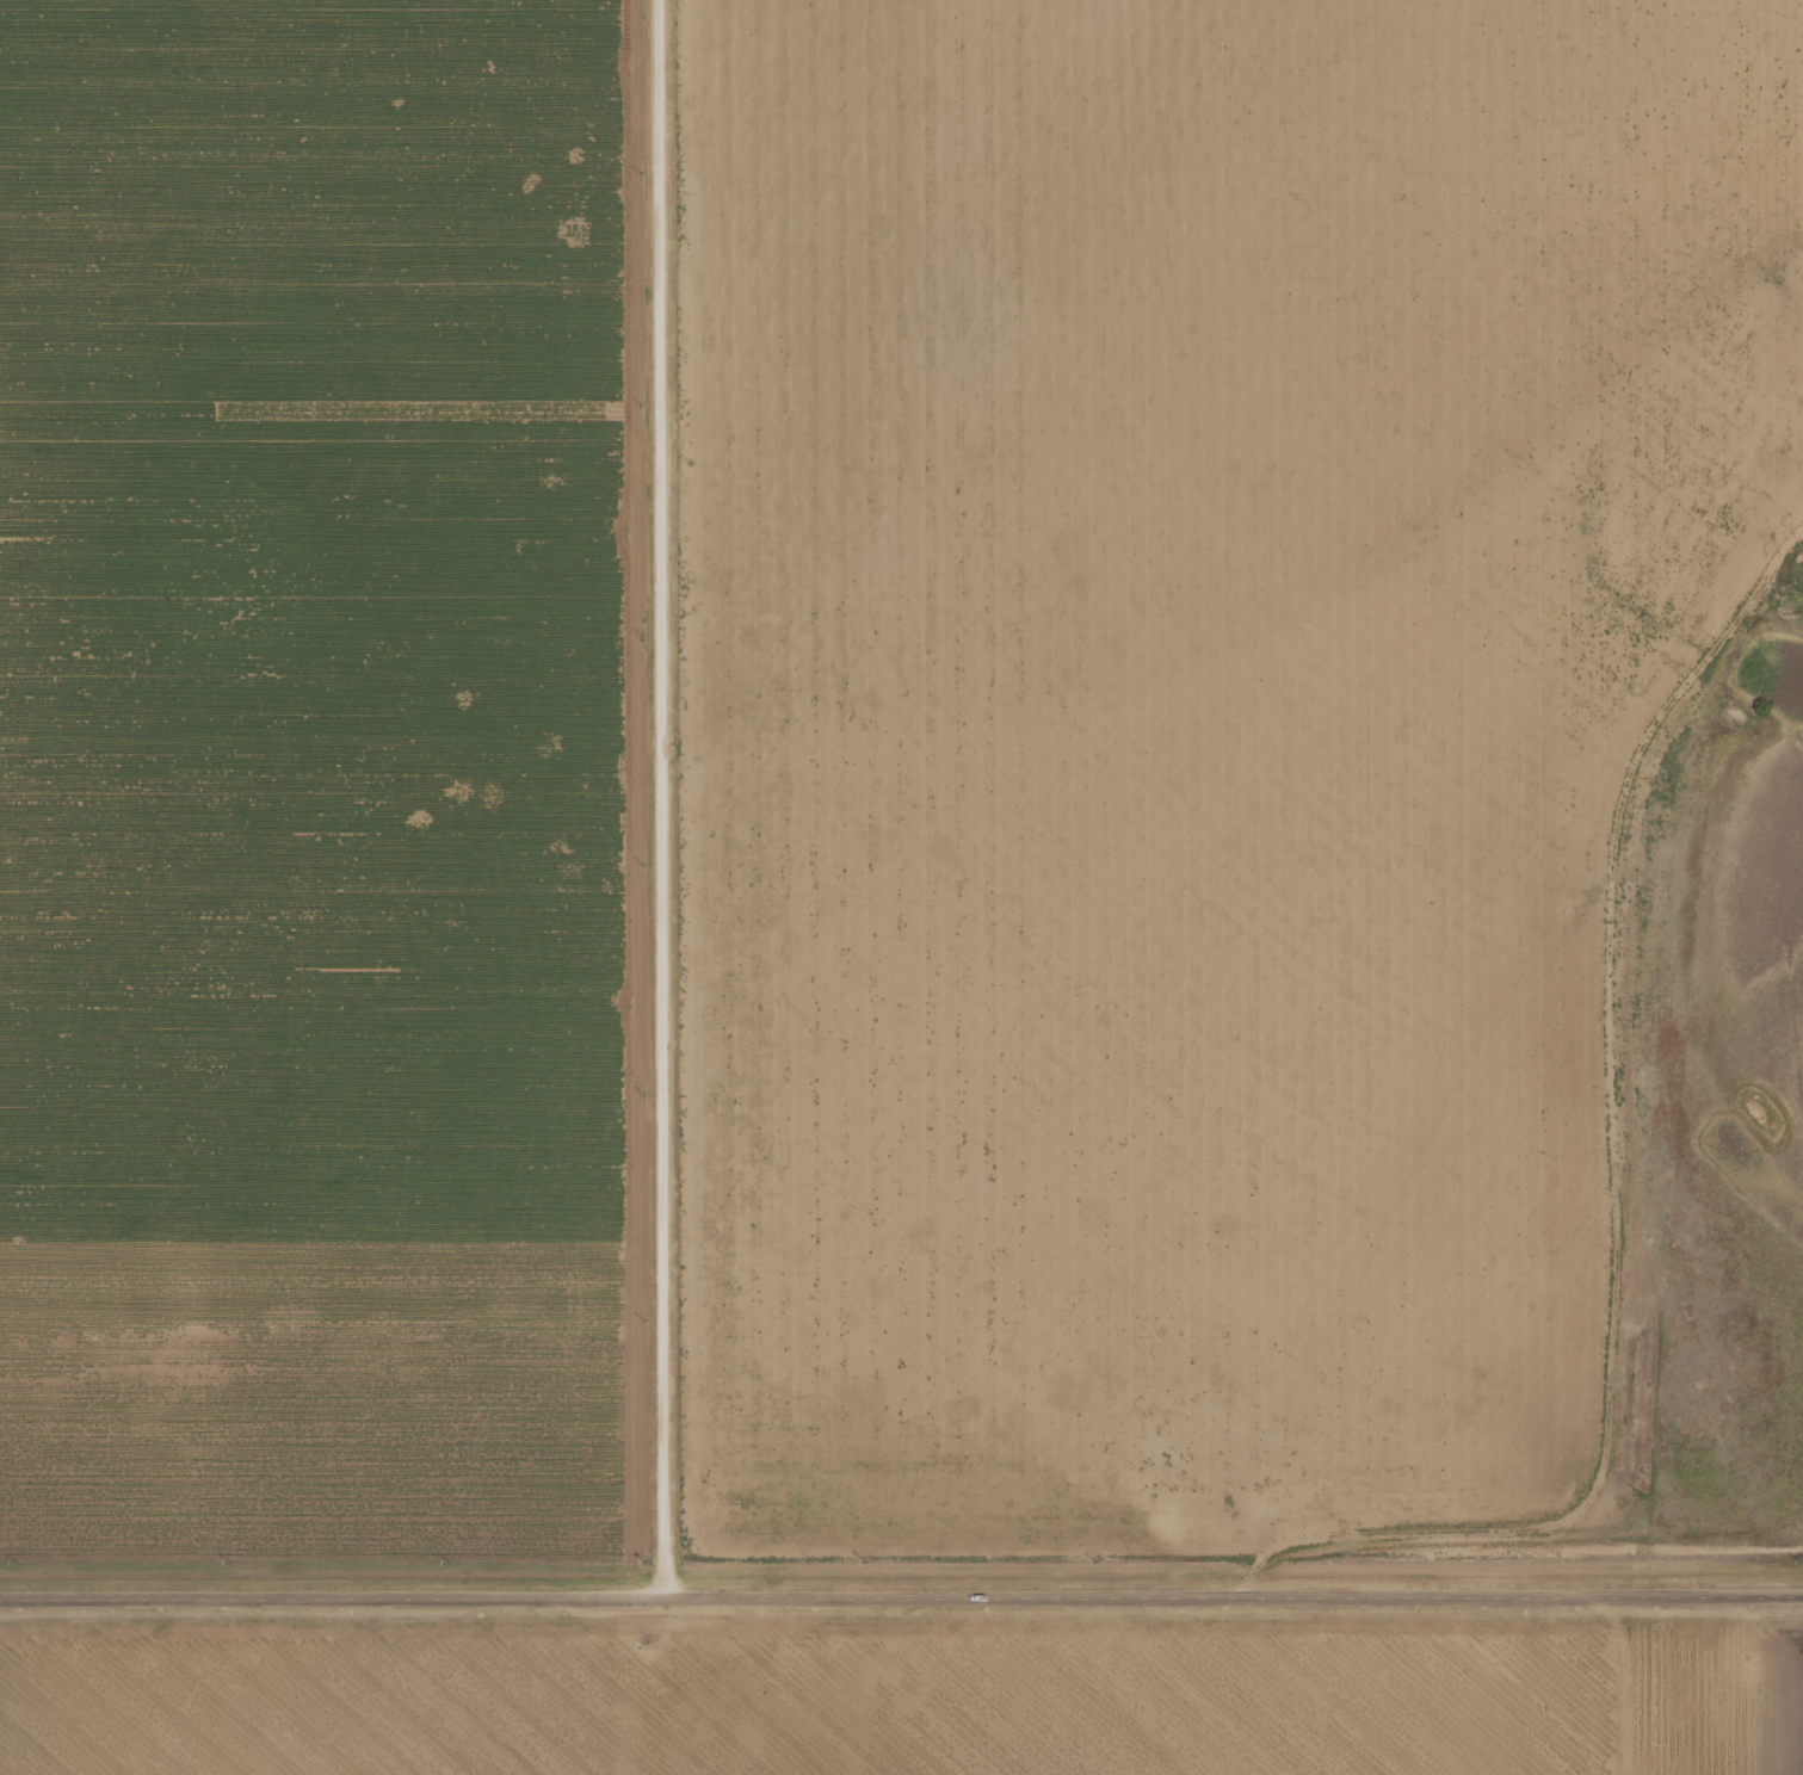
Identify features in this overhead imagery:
road: (653, 805)
road: (901, 1610)

